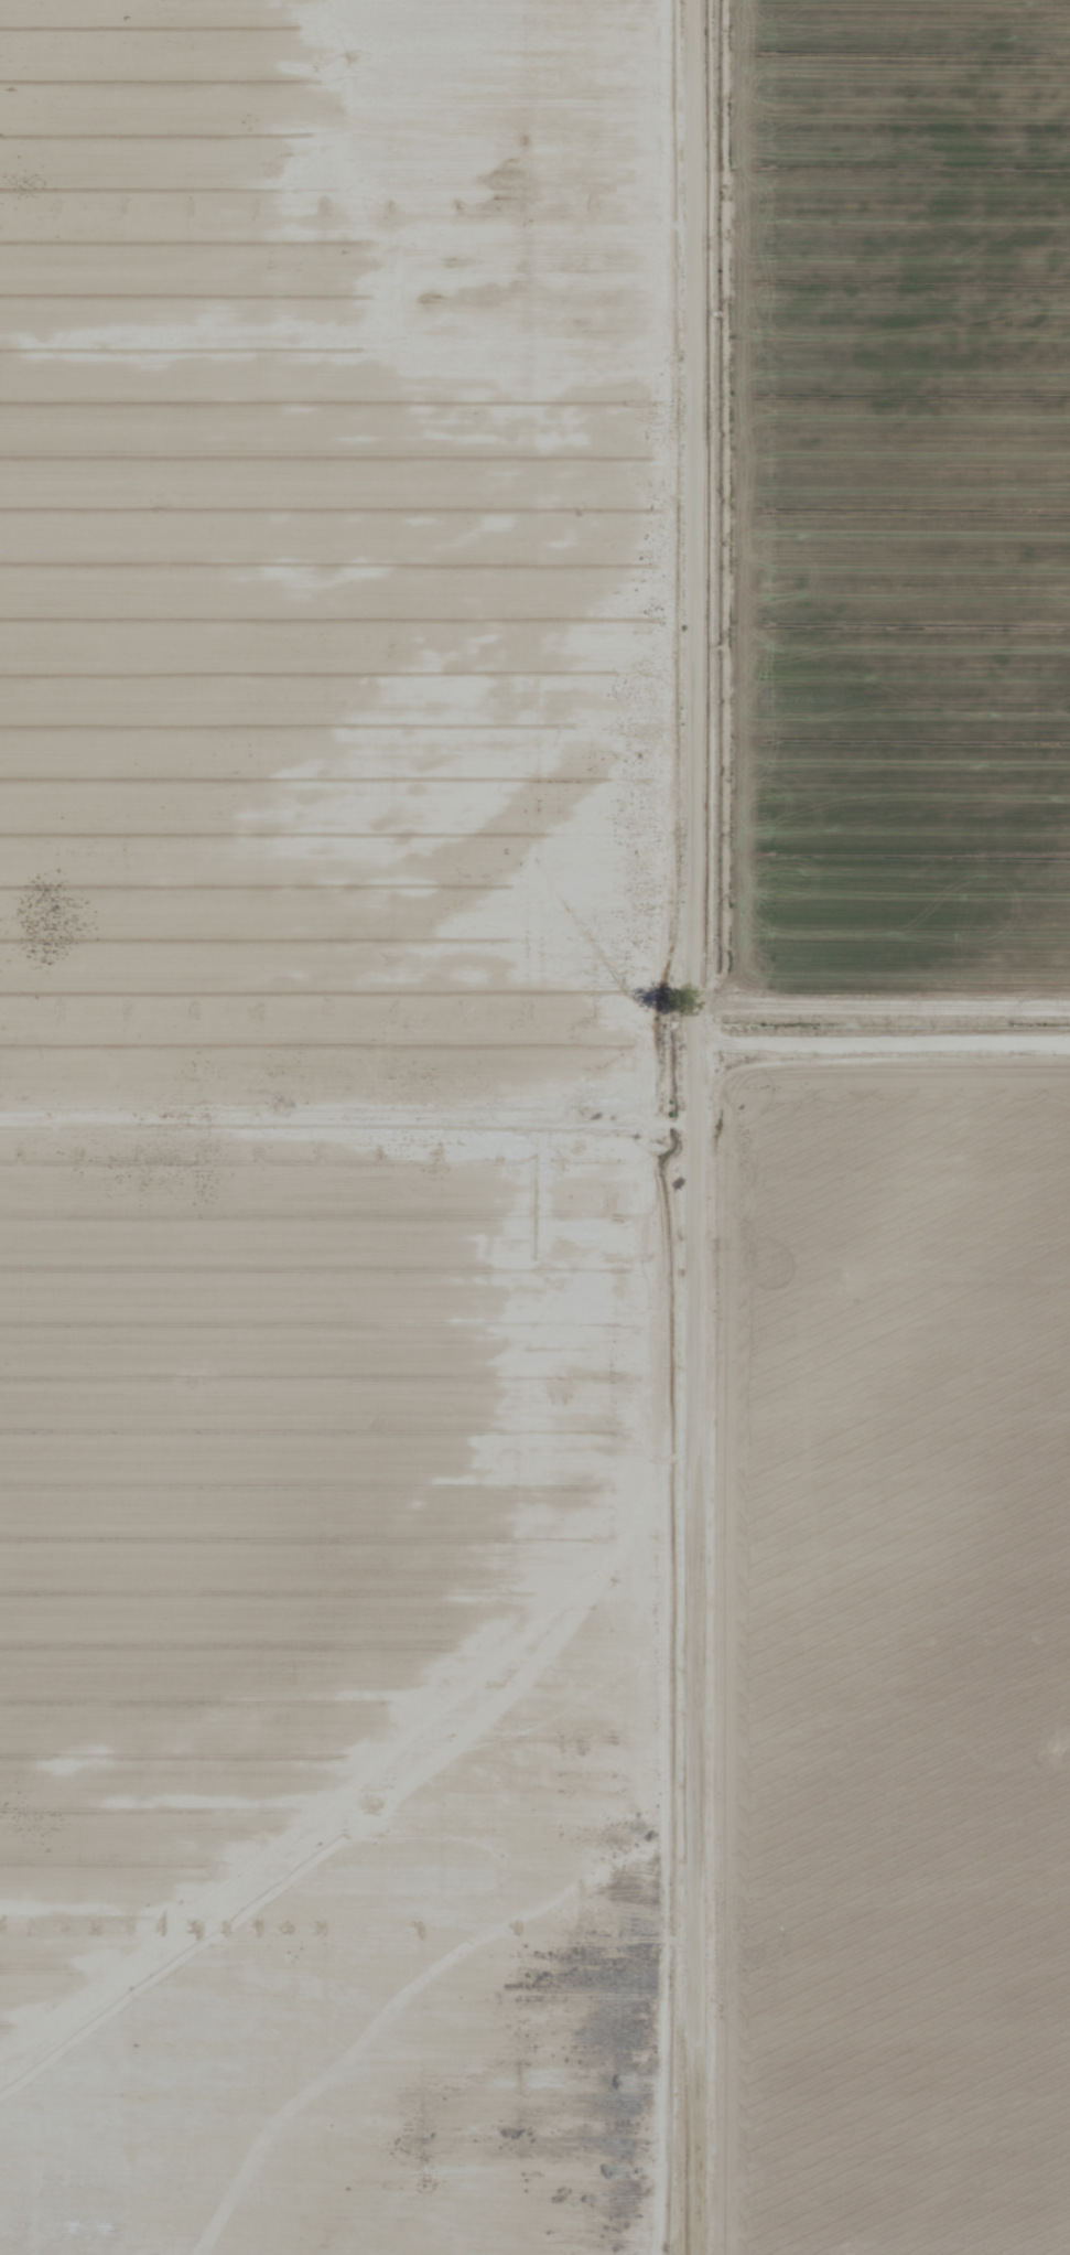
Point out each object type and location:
road: (694, 1127)

